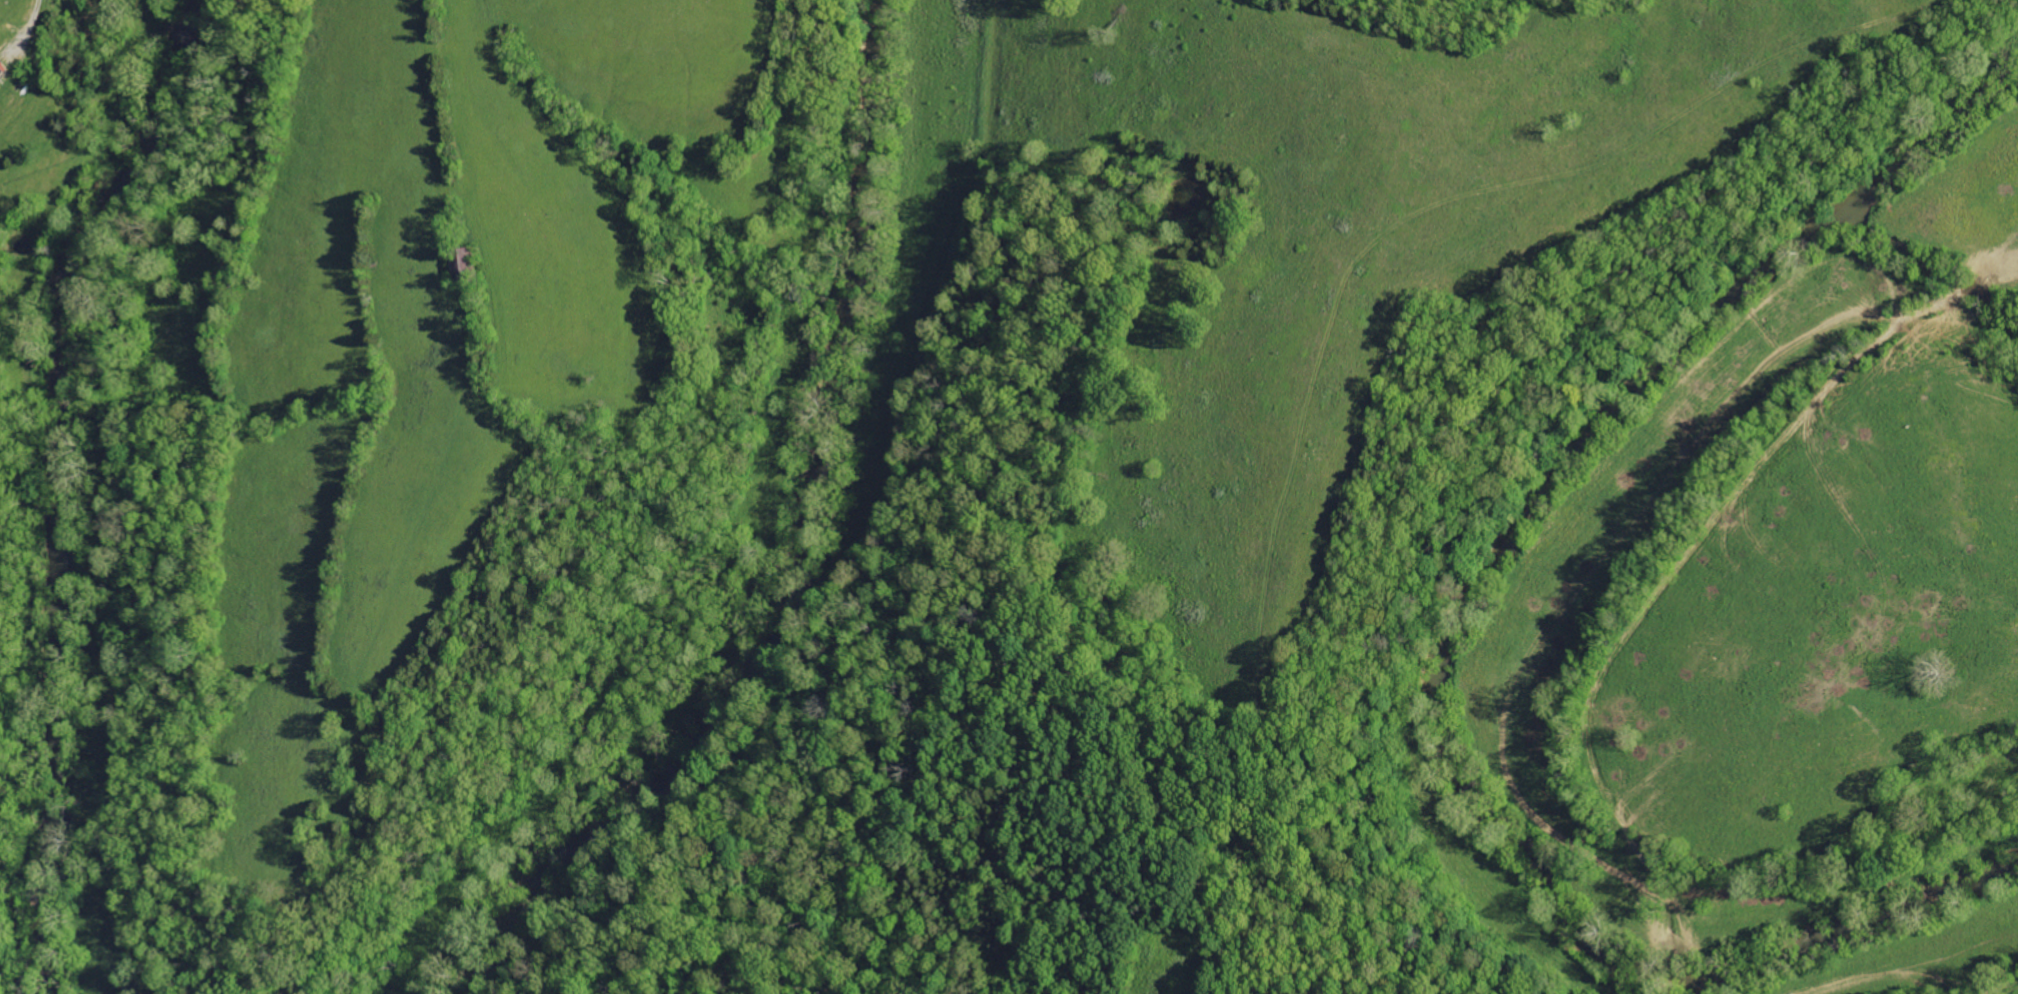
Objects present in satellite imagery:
road: (31, 27)

